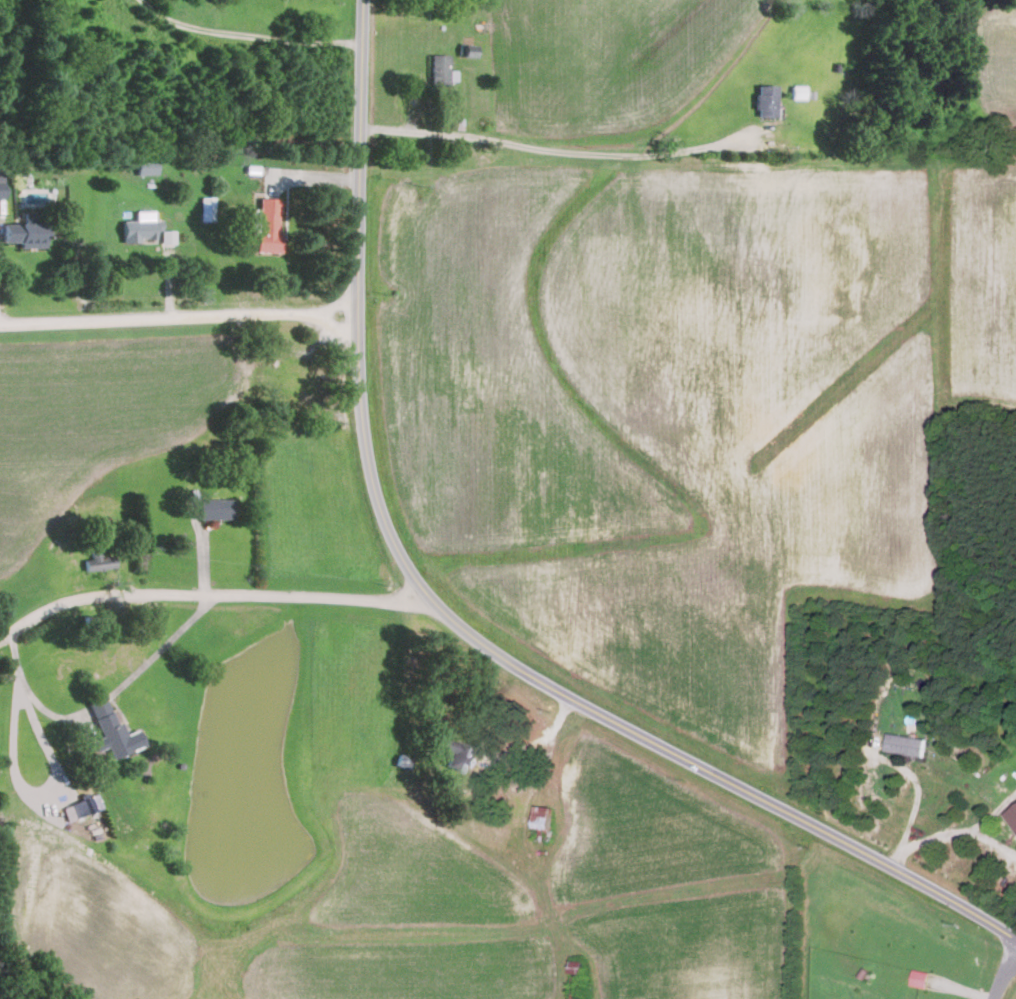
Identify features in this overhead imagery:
road: (247, 34)
building: (469, 51)
building: (438, 74)
building: (798, 92)
building: (764, 100)
road: (557, 150)
building: (144, 166)
building: (1, 184)
building: (206, 209)
building: (267, 224)
building: (139, 231)
building: (25, 233)
building: (168, 236)
road: (178, 315)
building: (213, 510)
building: (97, 561)
road: (210, 599)
road: (452, 622)
road: (160, 649)
road: (33, 697)
building: (108, 729)
road: (538, 740)
building: (907, 744)
building: (454, 754)
road: (915, 797)
building: (84, 807)
road: (992, 810)
building: (1014, 811)
building: (541, 819)
road: (934, 835)
road: (992, 841)
building: (581, 966)
road: (1003, 976)
building: (921, 977)

